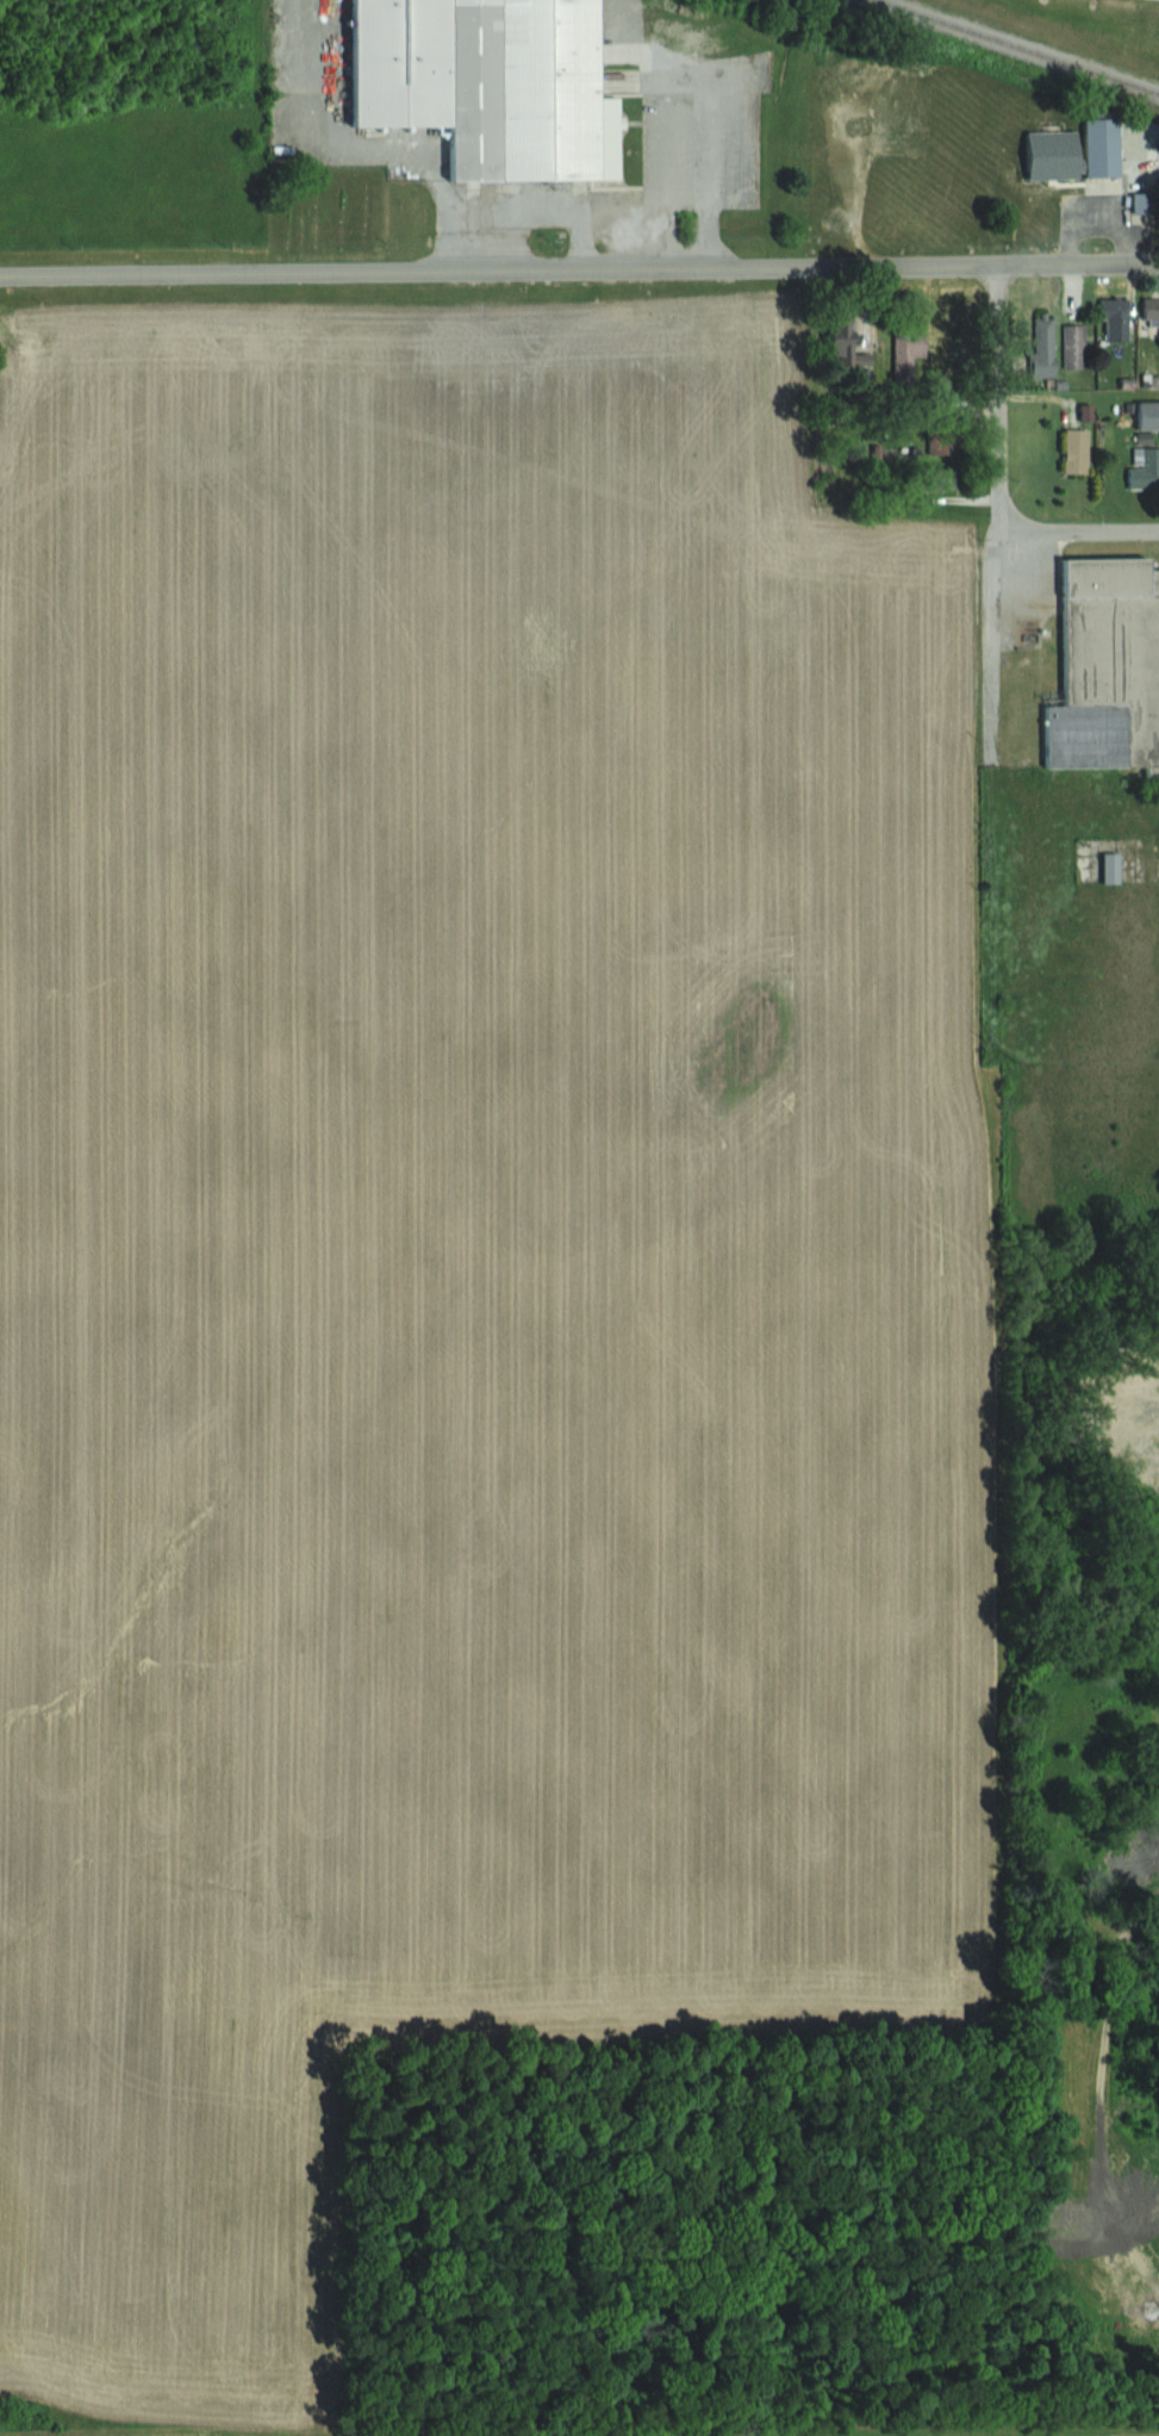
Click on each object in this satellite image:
railway: (1018, 46)
building: (492, 81)
road: (686, 82)
road: (367, 142)
building: (1103, 147)
road: (555, 204)
road: (580, 237)
road: (986, 266)
road: (407, 273)
building: (1152, 316)
building: (1117, 319)
building: (859, 342)
building: (1045, 346)
building: (1074, 346)
building: (910, 353)
building: (1148, 415)
building: (1078, 450)
building: (1146, 466)
road: (1001, 521)
road: (1079, 533)
building: (1110, 666)
road: (1079, 722)
building: (1114, 869)
road: (999, 1402)

